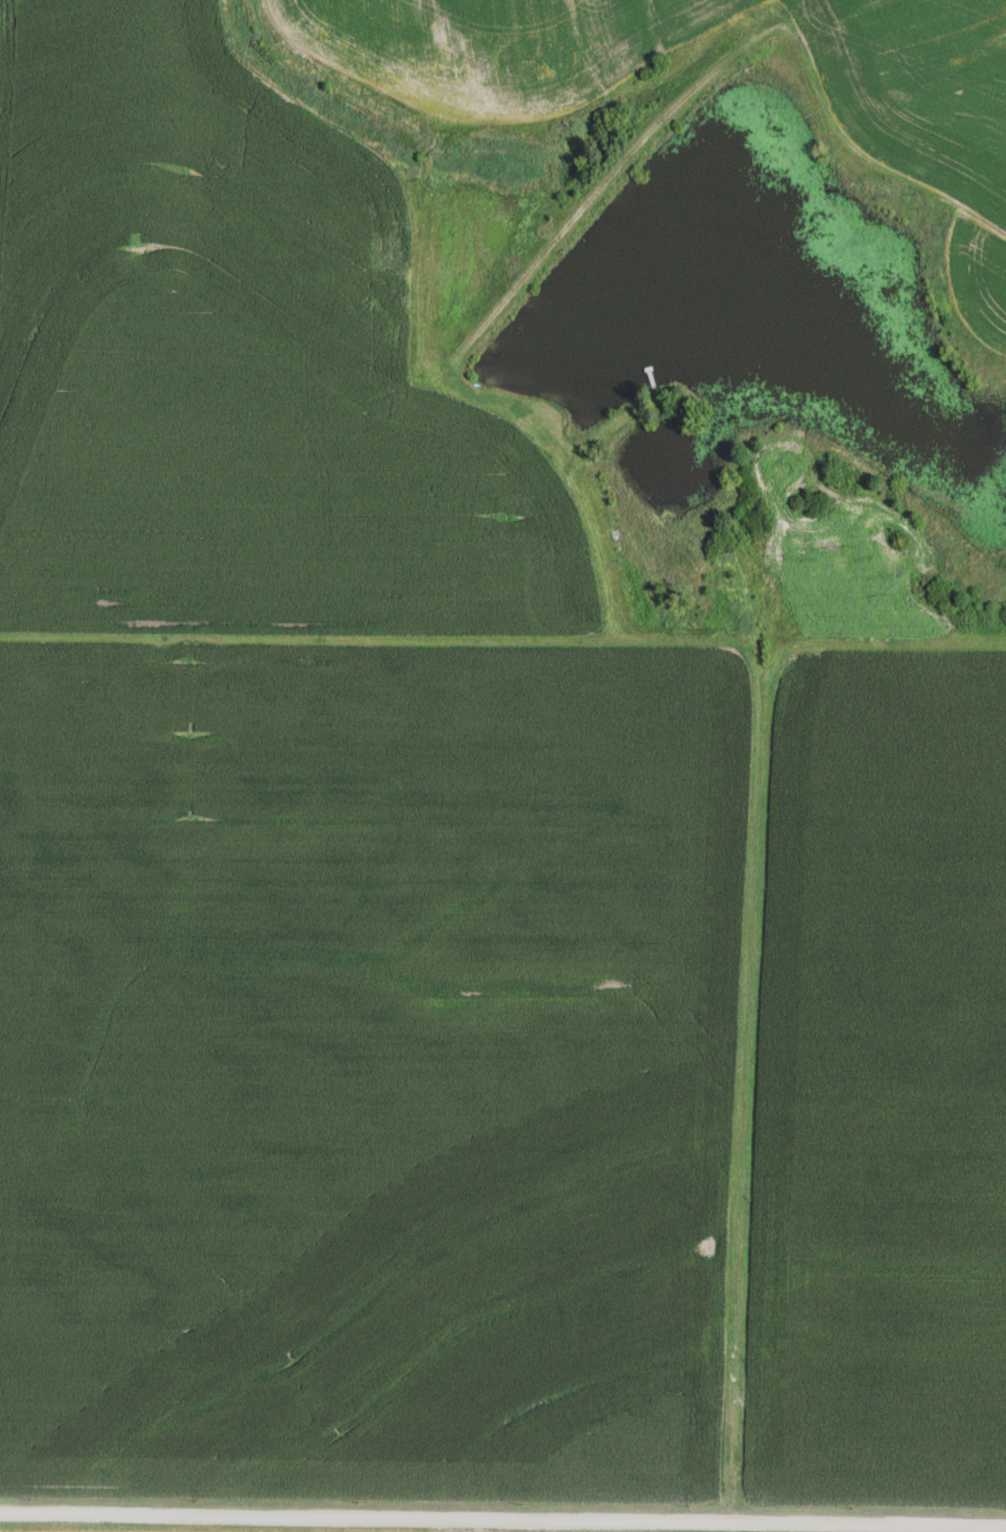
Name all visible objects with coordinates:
road: (502, 1520)

